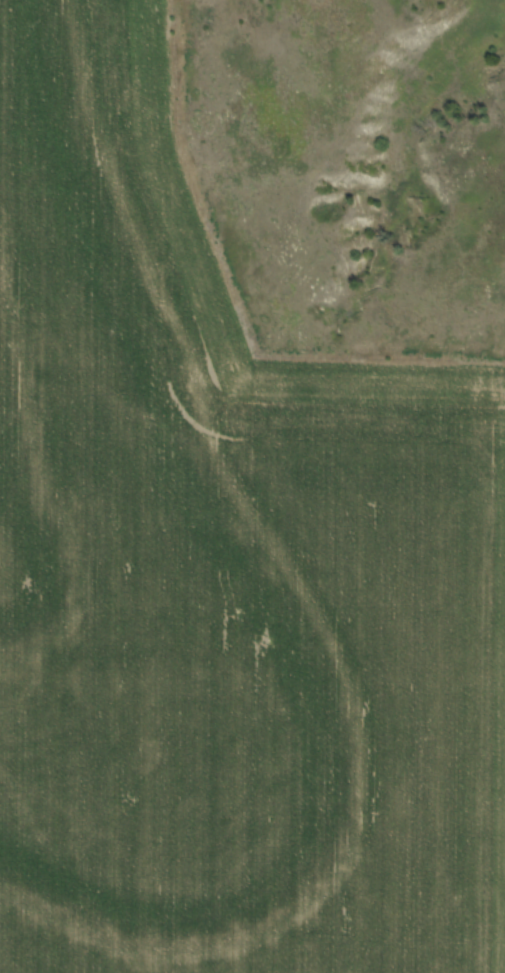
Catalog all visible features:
crop: (224, 577)

